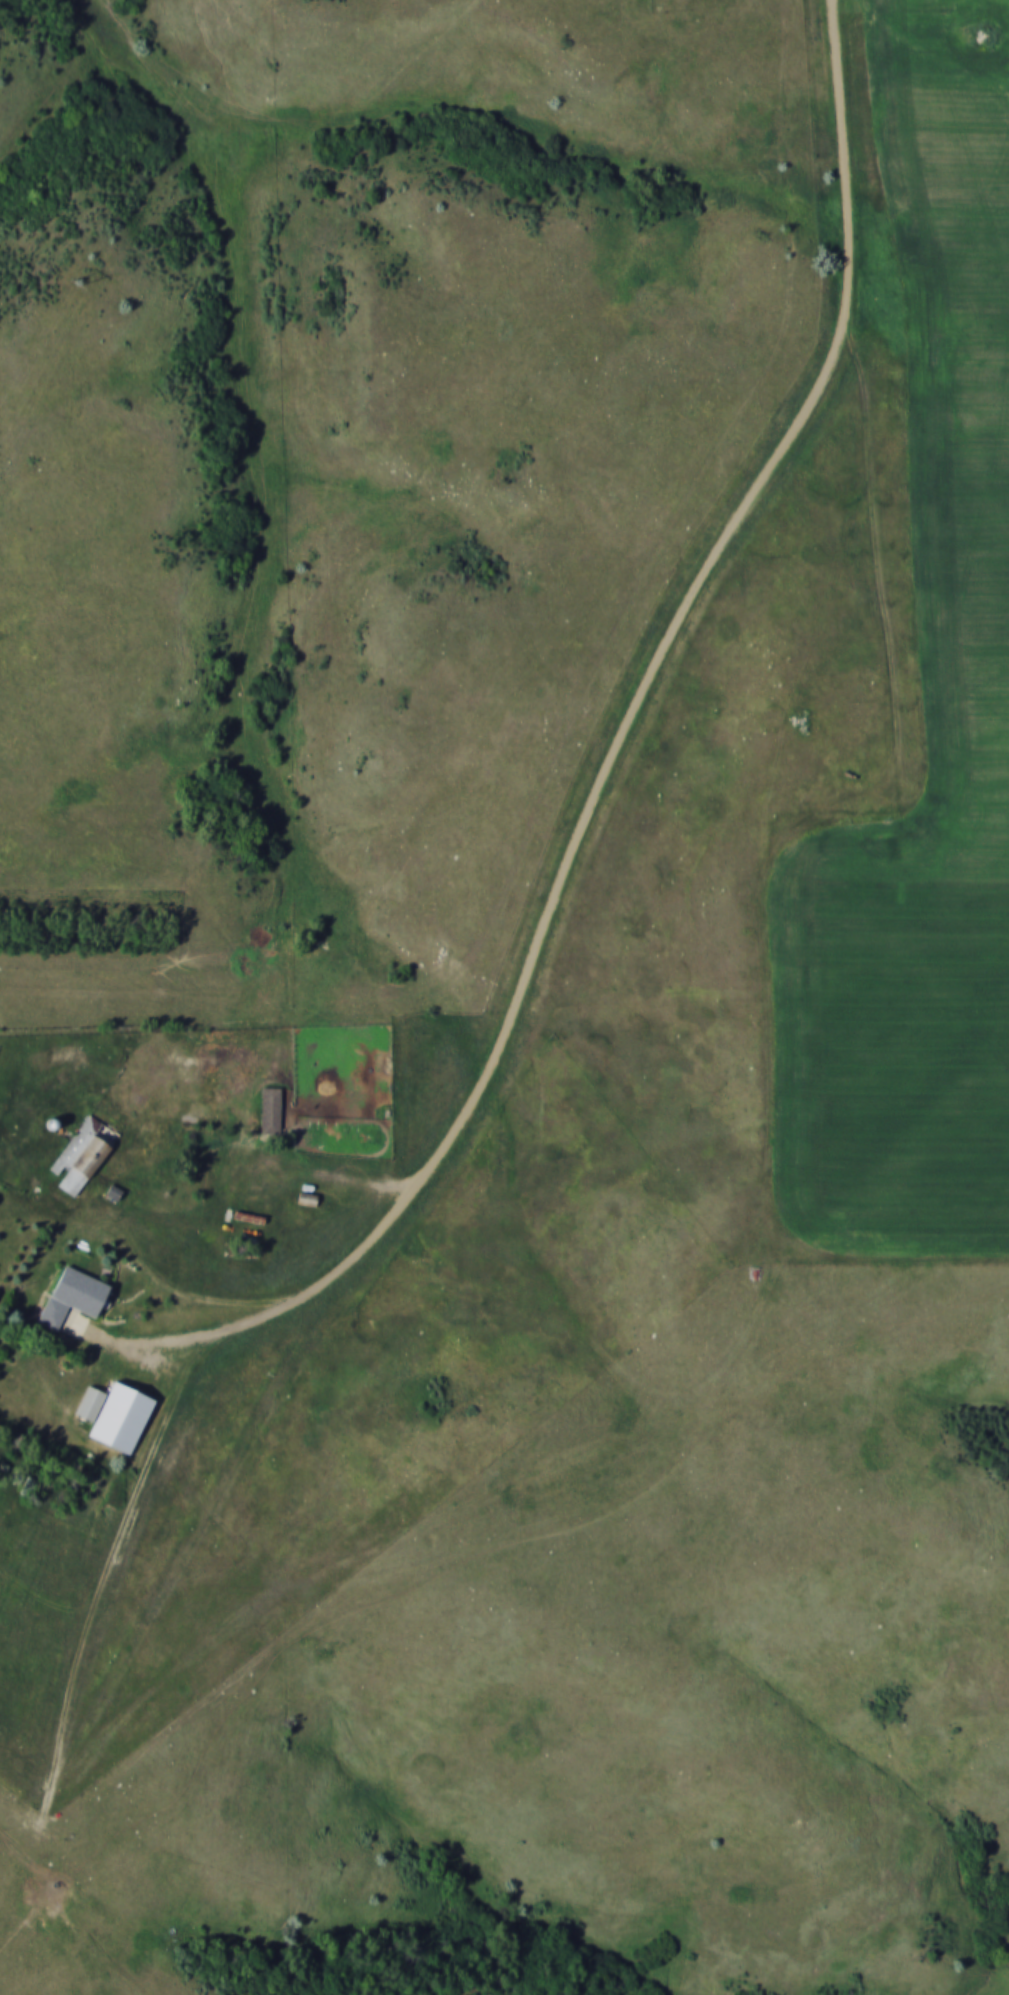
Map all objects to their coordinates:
power tower: (81, 284)
road: (743, 509)
road: (312, 997)
building: (270, 1109)
building: (82, 1153)
building: (113, 1192)
building: (73, 1295)
road: (301, 1296)
building: (115, 1414)
road: (171, 1435)

